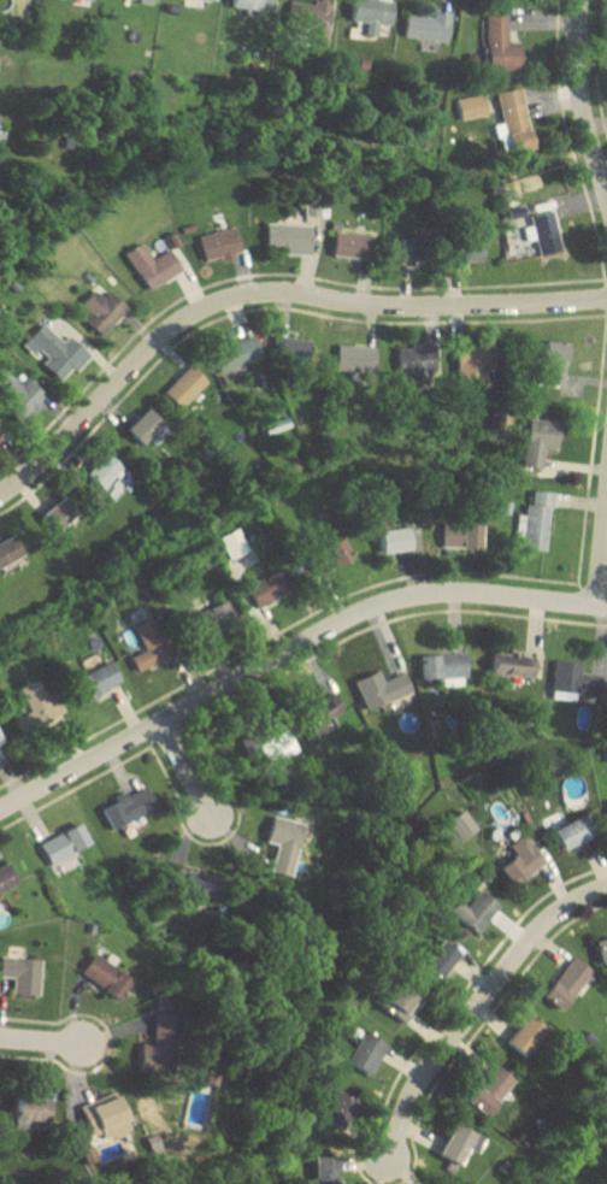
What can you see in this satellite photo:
building: (206, 0)
building: (145, 1)
building: (252, 4)
building: (369, 13)
building: (316, 22)
building: (425, 25)
building: (499, 43)
road: (594, 65)
road: (579, 100)
building: (512, 116)
road: (568, 143)
building: (540, 223)
building: (289, 237)
building: (219, 243)
building: (353, 245)
building: (414, 248)
building: (470, 249)
building: (153, 265)
road: (266, 273)
road: (265, 293)
building: (101, 308)
road: (264, 308)
building: (54, 351)
building: (236, 353)
building: (554, 357)
building: (354, 358)
building: (475, 361)
building: (416, 363)
building: (184, 385)
building: (23, 400)
building: (145, 425)
building: (0, 440)
building: (537, 441)
road: (591, 446)
building: (105, 471)
building: (61, 513)
building: (534, 520)
building: (460, 535)
building: (393, 540)
road: (600, 547)
building: (235, 549)
building: (335, 552)
building: (10, 553)
building: (269, 587)
building: (214, 613)
road: (381, 622)
road: (277, 630)
building: (149, 644)
road: (289, 649)
building: (512, 662)
building: (443, 668)
building: (96, 676)
building: (572, 681)
building: (382, 690)
building: (34, 696)
building: (330, 719)
building: (0, 740)
road: (185, 772)
road: (75, 787)
building: (128, 806)
building: (454, 829)
building: (573, 832)
road: (219, 841)
building: (64, 843)
building: (282, 843)
building: (521, 860)
building: (5, 877)
building: (200, 884)
building: (477, 909)
building: (601, 949)
building: (441, 959)
building: (20, 974)
building: (105, 976)
building: (567, 983)
building: (403, 1000)
road: (449, 1006)
road: (476, 1006)
road: (477, 1030)
building: (525, 1036)
building: (159, 1038)
road: (40, 1043)
road: (107, 1043)
building: (366, 1045)
building: (490, 1090)
building: (33, 1109)
building: (338, 1111)
building: (102, 1114)
building: (188, 1115)
building: (459, 1144)
building: (325, 1170)
road: (381, 1172)

